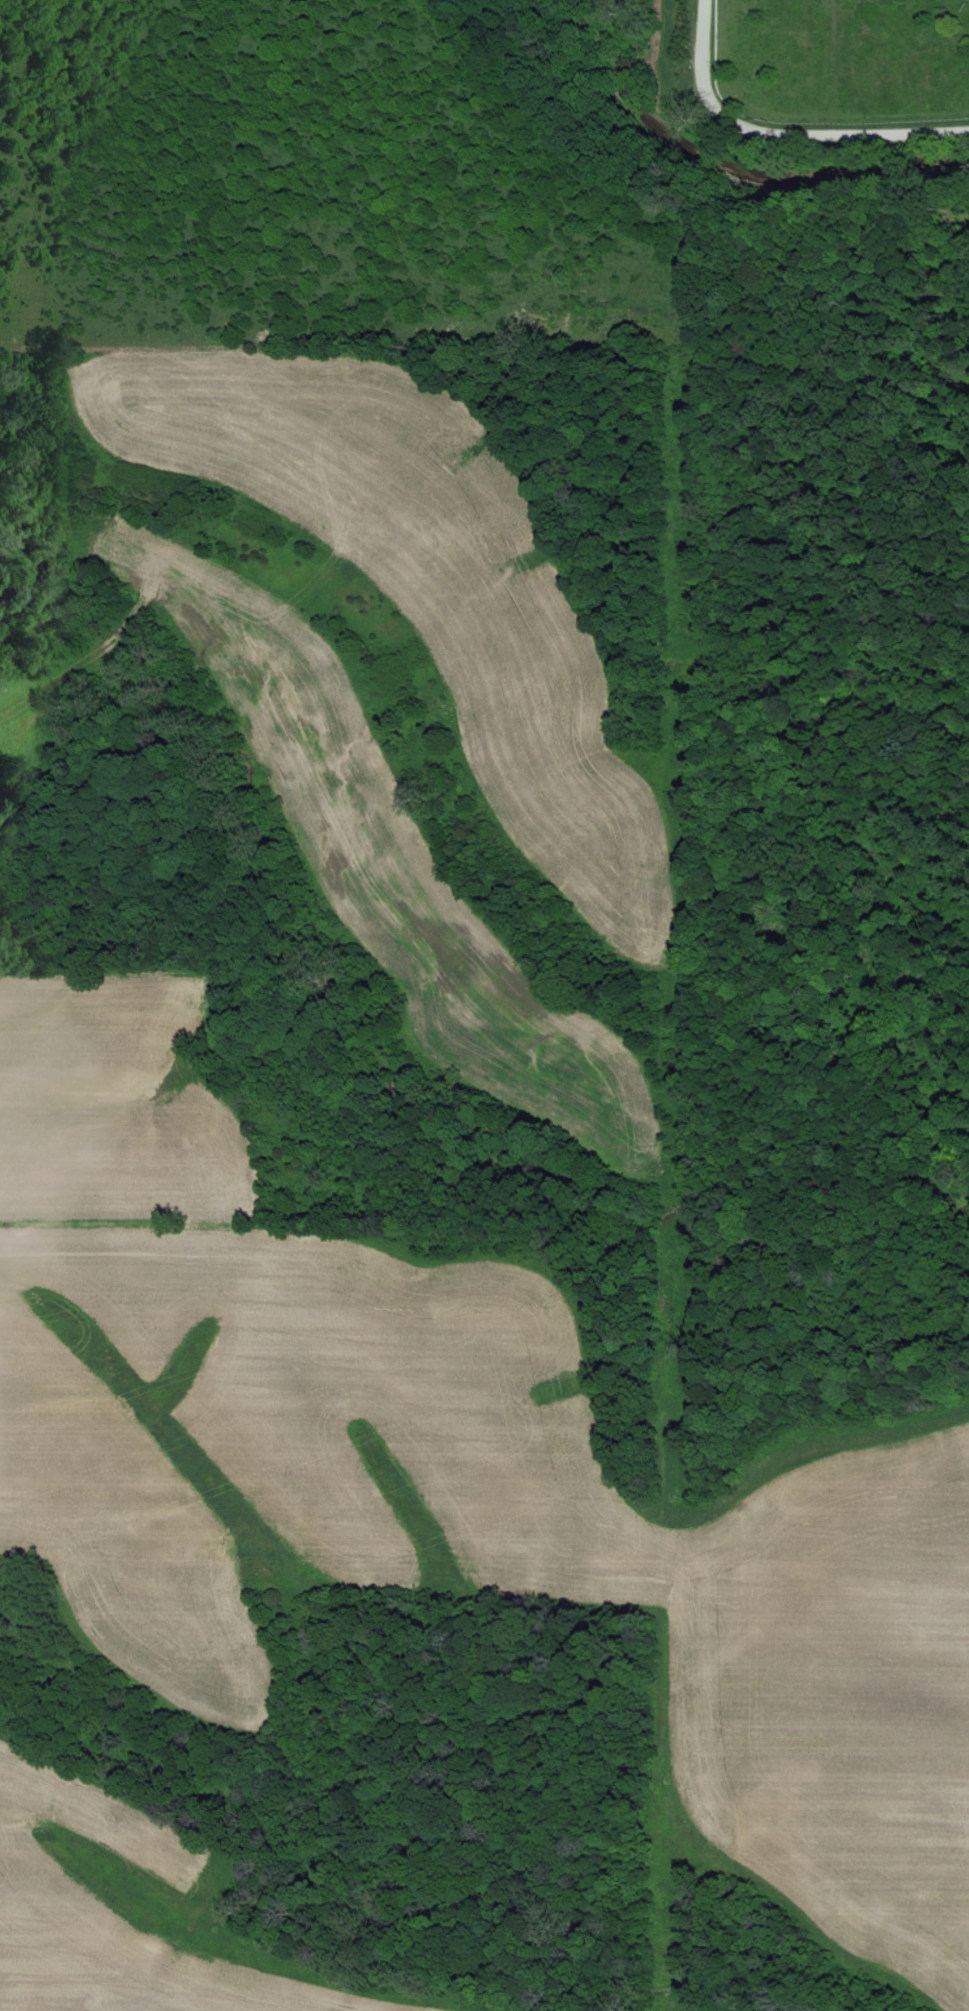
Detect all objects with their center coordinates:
road: (781, 133)

